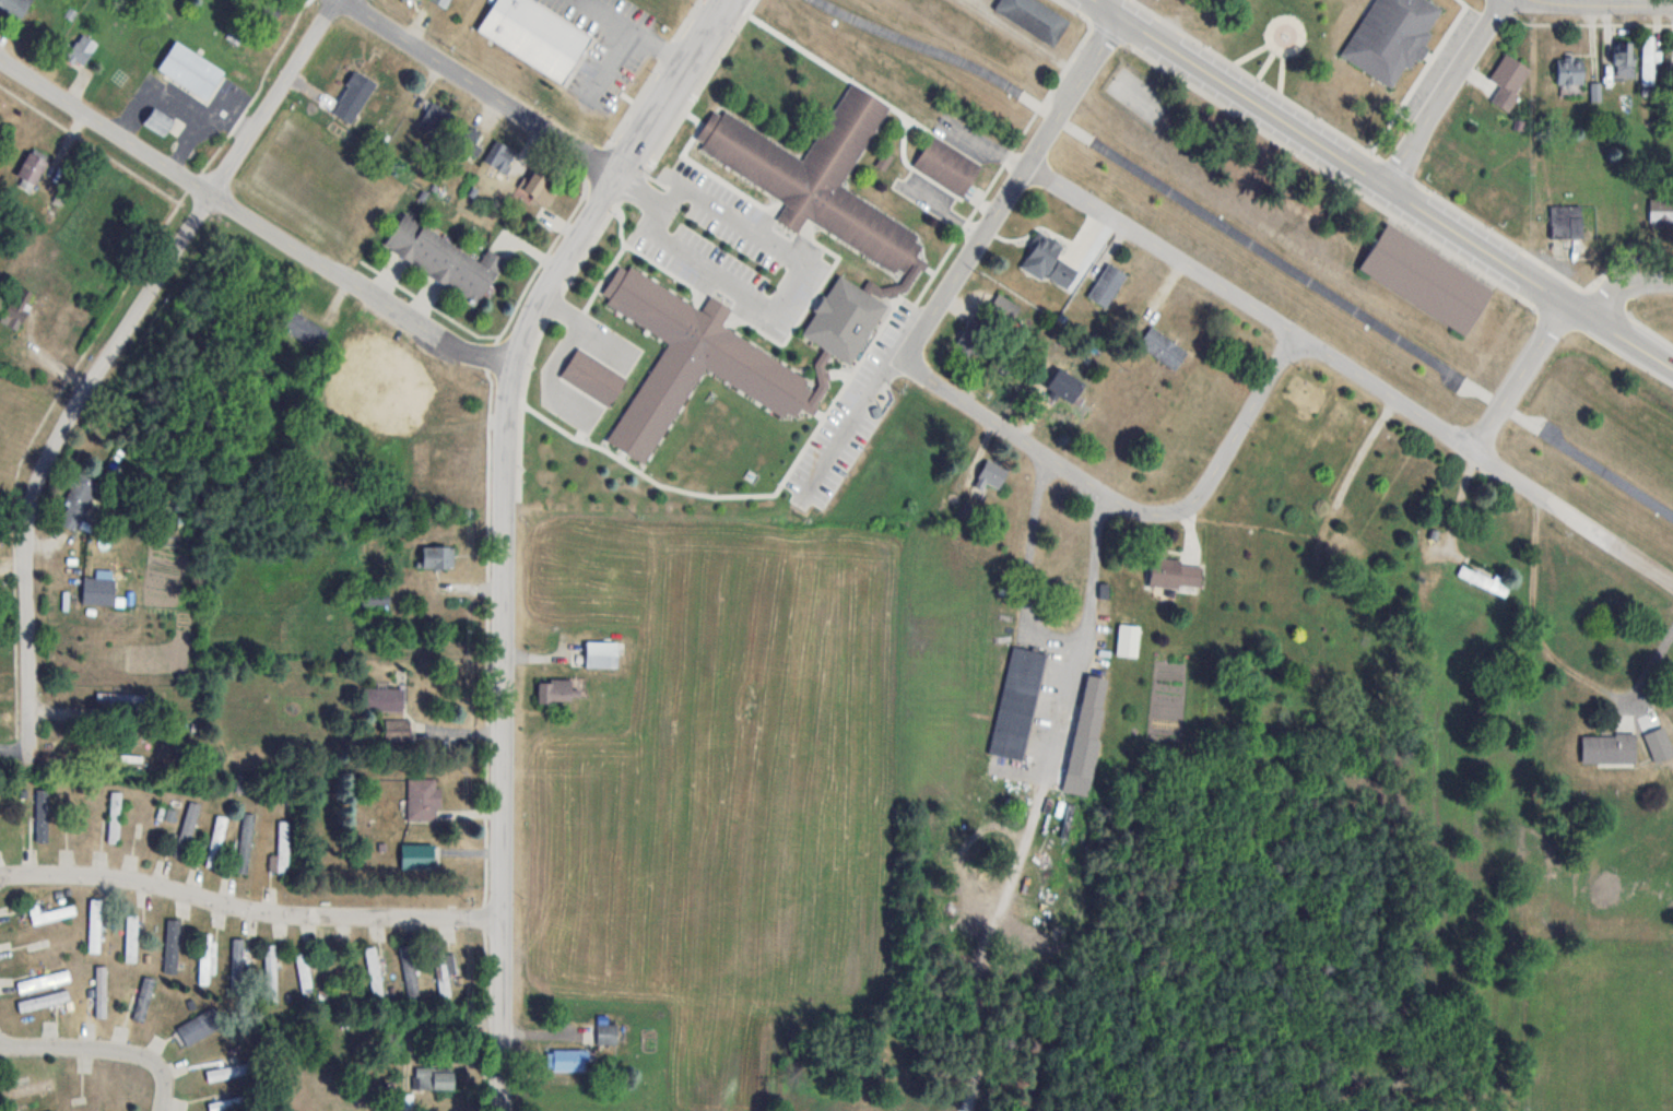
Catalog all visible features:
building: (438, 2)
road: (1611, 4)
building: (14, 7)
building: (1034, 17)
building: (1391, 36)
building: (537, 37)
building: (81, 50)
building: (1625, 59)
building: (1648, 59)
building: (190, 70)
building: (1569, 70)
building: (1508, 72)
road: (483, 86)
road: (1444, 93)
building: (435, 118)
building: (157, 121)
building: (468, 144)
road: (987, 145)
road: (1330, 151)
building: (503, 158)
building: (947, 165)
building: (32, 167)
road: (1012, 187)
building: (539, 189)
road: (946, 210)
building: (1660, 210)
road: (251, 220)
building: (1566, 222)
road: (1252, 245)
building: (443, 259)
road: (803, 261)
building: (1048, 262)
building: (907, 271)
building: (1425, 280)
road: (1626, 283)
building: (1107, 285)
road: (1250, 304)
building: (17, 308)
building: (1003, 309)
road: (584, 324)
building: (302, 328)
road: (1619, 333)
building: (974, 339)
building: (1163, 348)
road: (106, 356)
road: (551, 371)
road: (1518, 375)
building: (592, 377)
building: (1306, 398)
building: (1081, 410)
road: (1239, 426)
road: (504, 428)
road: (1036, 448)
building: (991, 474)
building: (76, 500)
road: (1571, 515)
building: (436, 558)
building: (1174, 574)
building: (1484, 579)
building: (97, 591)
building: (374, 600)
road: (1047, 635)
building: (1128, 640)
building: (600, 653)
building: (554, 690)
building: (382, 699)
building: (1016, 702)
building: (1091, 707)
building: (397, 730)
building: (1607, 748)
building: (423, 800)
building: (33, 811)
building: (75, 813)
building: (114, 816)
building: (244, 842)
building: (283, 844)
building: (416, 854)
road: (248, 907)
building: (50, 913)
building: (131, 937)
building: (172, 945)
building: (207, 960)
building: (237, 968)
building: (443, 970)
building: (305, 972)
building: (270, 973)
building: (374, 973)
building: (409, 973)
road: (500, 1014)
building: (198, 1027)
building: (603, 1036)
road: (105, 1048)
building: (567, 1060)
building: (227, 1072)
building: (433, 1078)
building: (27, 1089)

